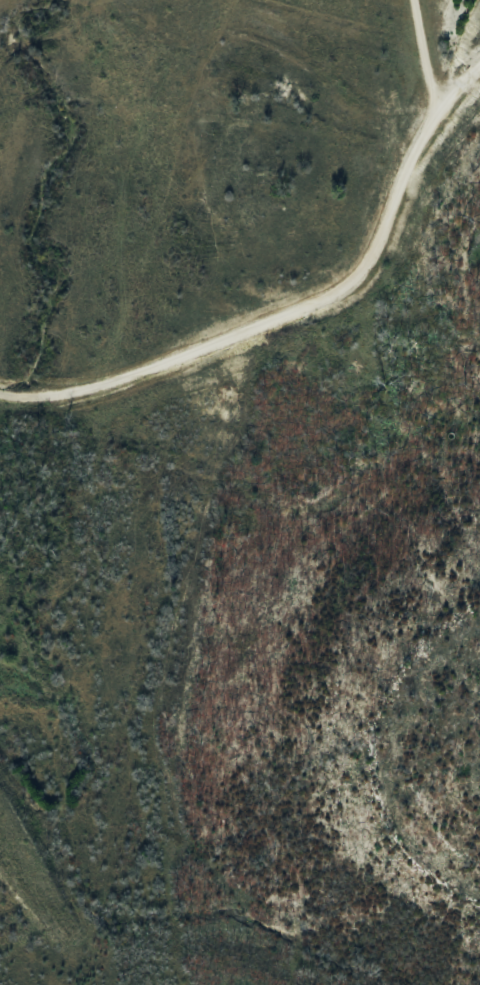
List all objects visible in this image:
road: (419, 57)
road: (299, 308)

